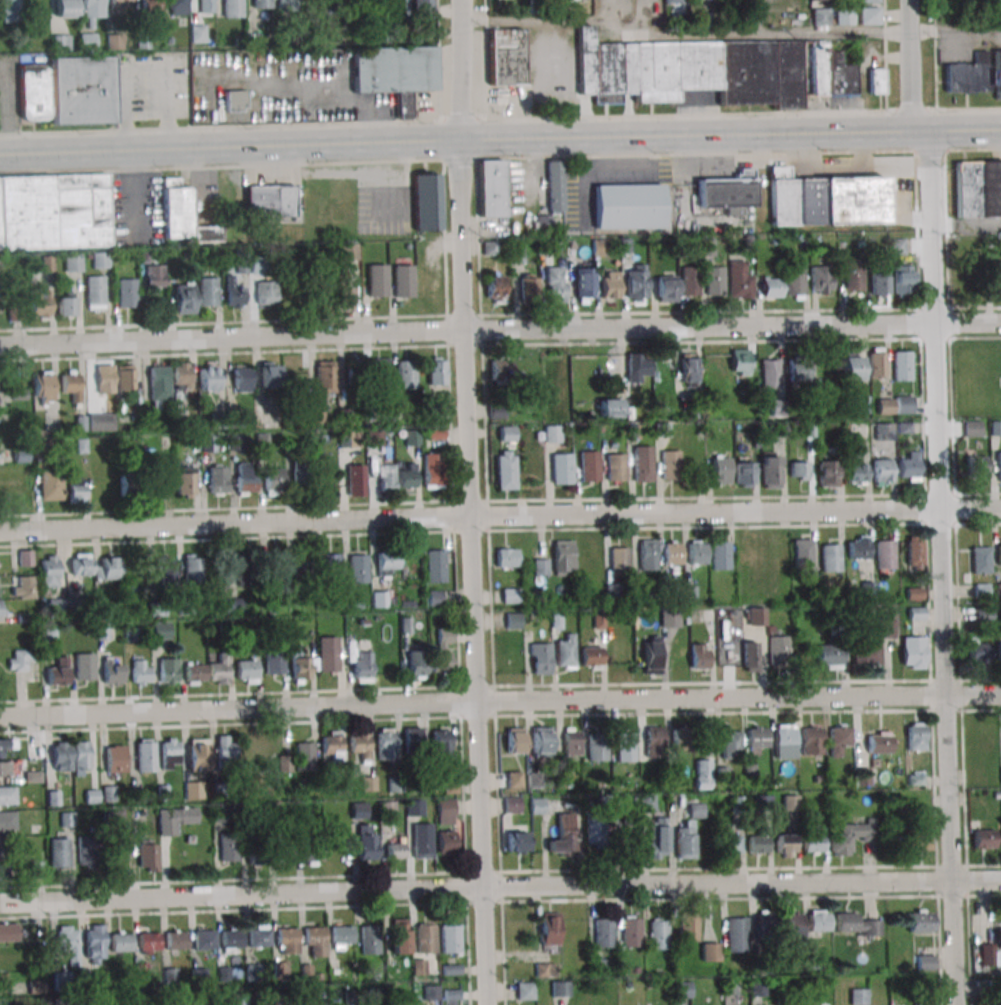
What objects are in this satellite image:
building: (819, 0)
building: (671, 1)
building: (868, 1)
building: (260, 3)
building: (287, 3)
building: (358, 4)
building: (399, 4)
building: (150, 5)
building: (120, 6)
building: (207, 6)
building: (178, 7)
building: (233, 8)
building: (65, 9)
building: (93, 9)
building: (422, 9)
building: (820, 16)
building: (844, 16)
building: (869, 16)
road: (956, 31)
building: (198, 33)
road: (685, 34)
building: (60, 42)
road: (934, 54)
building: (506, 56)
road: (484, 58)
road: (911, 65)
building: (690, 70)
building: (396, 73)
building: (997, 74)
building: (968, 75)
building: (831, 77)
building: (876, 81)
building: (81, 87)
building: (34, 92)
building: (235, 100)
road: (500, 115)
road: (500, 138)
building: (555, 187)
building: (491, 188)
building: (978, 189)
building: (728, 191)
building: (270, 200)
building: (826, 200)
building: (426, 202)
building: (628, 206)
building: (54, 212)
building: (182, 215)
building: (707, 246)
building: (349, 251)
building: (101, 260)
building: (48, 263)
building: (72, 263)
building: (258, 265)
building: (153, 274)
building: (995, 274)
building: (853, 276)
building: (739, 278)
building: (821, 279)
building: (376, 280)
building: (403, 280)
building: (689, 280)
building: (795, 280)
building: (903, 280)
building: (714, 281)
building: (636, 282)
building: (556, 284)
building: (528, 285)
building: (584, 285)
building: (610, 285)
building: (879, 285)
building: (771, 287)
building: (208, 288)
building: (495, 288)
building: (663, 288)
building: (127, 290)
building: (95, 292)
building: (266, 292)
building: (233, 293)
building: (344, 294)
building: (184, 297)
building: (40, 302)
building: (15, 304)
building: (64, 304)
road: (500, 314)
road: (500, 330)
road: (500, 344)
building: (740, 362)
building: (877, 362)
building: (902, 365)
building: (637, 366)
building: (501, 367)
building: (689, 370)
building: (437, 371)
building: (798, 371)
building: (852, 371)
building: (381, 372)
building: (770, 373)
building: (407, 374)
building: (181, 376)
building: (325, 377)
building: (209, 379)
building: (104, 380)
building: (269, 380)
building: (125, 381)
building: (159, 383)
building: (71, 384)
building: (242, 384)
building: (42, 387)
building: (904, 404)
building: (885, 406)
building: (611, 408)
building: (497, 412)
building: (95, 422)
building: (972, 428)
building: (859, 430)
building: (773, 431)
building: (884, 432)
building: (507, 433)
building: (552, 433)
building: (434, 434)
building: (411, 437)
building: (209, 444)
building: (670, 465)
building: (909, 465)
building: (977, 465)
building: (589, 466)
building: (642, 466)
building: (999, 466)
building: (616, 467)
building: (561, 469)
building: (433, 470)
building: (721, 470)
building: (771, 470)
building: (798, 470)
building: (882, 472)
building: (505, 473)
building: (826, 473)
building: (856, 473)
building: (744, 474)
building: (217, 476)
building: (385, 476)
building: (300, 477)
building: (407, 477)
building: (185, 480)
building: (355, 480)
building: (273, 481)
building: (245, 482)
building: (51, 485)
building: (128, 485)
building: (76, 490)
road: (469, 502)
road: (500, 515)
building: (860, 548)
building: (915, 551)
building: (672, 552)
building: (698, 552)
building: (803, 552)
building: (563, 555)
building: (647, 555)
building: (884, 555)
building: (999, 555)
building: (720, 556)
building: (26, 557)
building: (507, 557)
building: (830, 559)
building: (981, 560)
building: (386, 562)
building: (619, 562)
building: (81, 564)
building: (303, 565)
building: (435, 566)
building: (540, 567)
road: (942, 567)
building: (108, 568)
building: (165, 568)
building: (193, 568)
building: (358, 568)
building: (247, 569)
building: (330, 570)
building: (50, 571)
building: (276, 573)
building: (23, 587)
building: (613, 591)
building: (435, 598)
building: (383, 599)
building: (234, 605)
building: (56, 607)
building: (1, 608)
building: (917, 613)
building: (754, 616)
building: (670, 619)
building: (513, 621)
building: (886, 628)
building: (133, 634)
building: (442, 650)
building: (999, 650)
building: (778, 651)
building: (913, 652)
building: (979, 652)
building: (565, 653)
building: (328, 654)
building: (867, 654)
building: (651, 655)
building: (699, 656)
building: (750, 656)
building: (829, 656)
building: (591, 657)
building: (21, 659)
building: (541, 661)
building: (274, 664)
building: (417, 664)
building: (85, 666)
building: (362, 666)
building: (168, 670)
building: (220, 671)
building: (247, 671)
building: (59, 672)
building: (140, 672)
building: (111, 673)
building: (196, 674)
road: (500, 701)
building: (916, 732)
building: (758, 736)
building: (986, 737)
building: (682, 738)
building: (655, 739)
building: (879, 741)
building: (812, 742)
building: (841, 742)
building: (542, 743)
building: (785, 743)
building: (360, 744)
building: (413, 744)
building: (515, 744)
building: (571, 744)
building: (731, 744)
building: (7, 745)
building: (441, 745)
building: (332, 746)
building: (625, 746)
building: (226, 747)
building: (596, 747)
building: (386, 748)
building: (168, 753)
building: (198, 754)
building: (145, 755)
building: (61, 756)
building: (81, 758)
building: (115, 759)
building: (305, 759)
building: (5, 769)
building: (702, 774)
building: (978, 776)
building: (514, 779)
building: (369, 783)
building: (193, 790)
building: (8, 795)
building: (790, 802)
building: (512, 805)
building: (537, 806)
building: (414, 807)
building: (359, 810)
building: (696, 810)
building: (445, 811)
building: (67, 819)
building: (175, 819)
building: (8, 820)
building: (595, 829)
building: (563, 836)
building: (853, 836)
building: (657, 838)
building: (983, 838)
building: (422, 840)
building: (815, 840)
building: (518, 841)
building: (686, 841)
building: (916, 841)
building: (367, 842)
building: (446, 842)
building: (758, 842)
building: (731, 844)
building: (786, 845)
building: (229, 846)
building: (254, 846)
building: (2, 848)
building: (60, 849)
building: (396, 849)
building: (285, 850)
building: (85, 852)
building: (313, 853)
building: (148, 855)
building: (2, 874)
road: (500, 885)
building: (819, 920)
building: (920, 921)
building: (856, 925)
building: (765, 927)
building: (792, 928)
building: (688, 929)
building: (549, 931)
building: (9, 932)
building: (737, 932)
building: (632, 933)
building: (342, 934)
building: (602, 934)
building: (659, 934)
building: (259, 936)
building: (400, 936)
building: (998, 937)
building: (425, 938)
building: (450, 938)
building: (370, 939)
building: (176, 940)
building: (204, 940)
building: (231, 940)
building: (287, 940)
building: (121, 941)
building: (315, 941)
building: (148, 942)
building: (68, 943)
building: (95, 945)
building: (710, 951)
building: (986, 955)
building: (925, 962)
building: (418, 966)
building: (541, 969)
building: (281, 970)
building: (451, 970)
building: (200, 975)
building: (171, 976)
building: (4, 981)
building: (37, 986)
building: (560, 988)
building: (757, 988)
building: (682, 989)
building: (525, 990)
building: (431, 992)
building: (451, 994)
building: (858, 997)
building: (321, 998)

